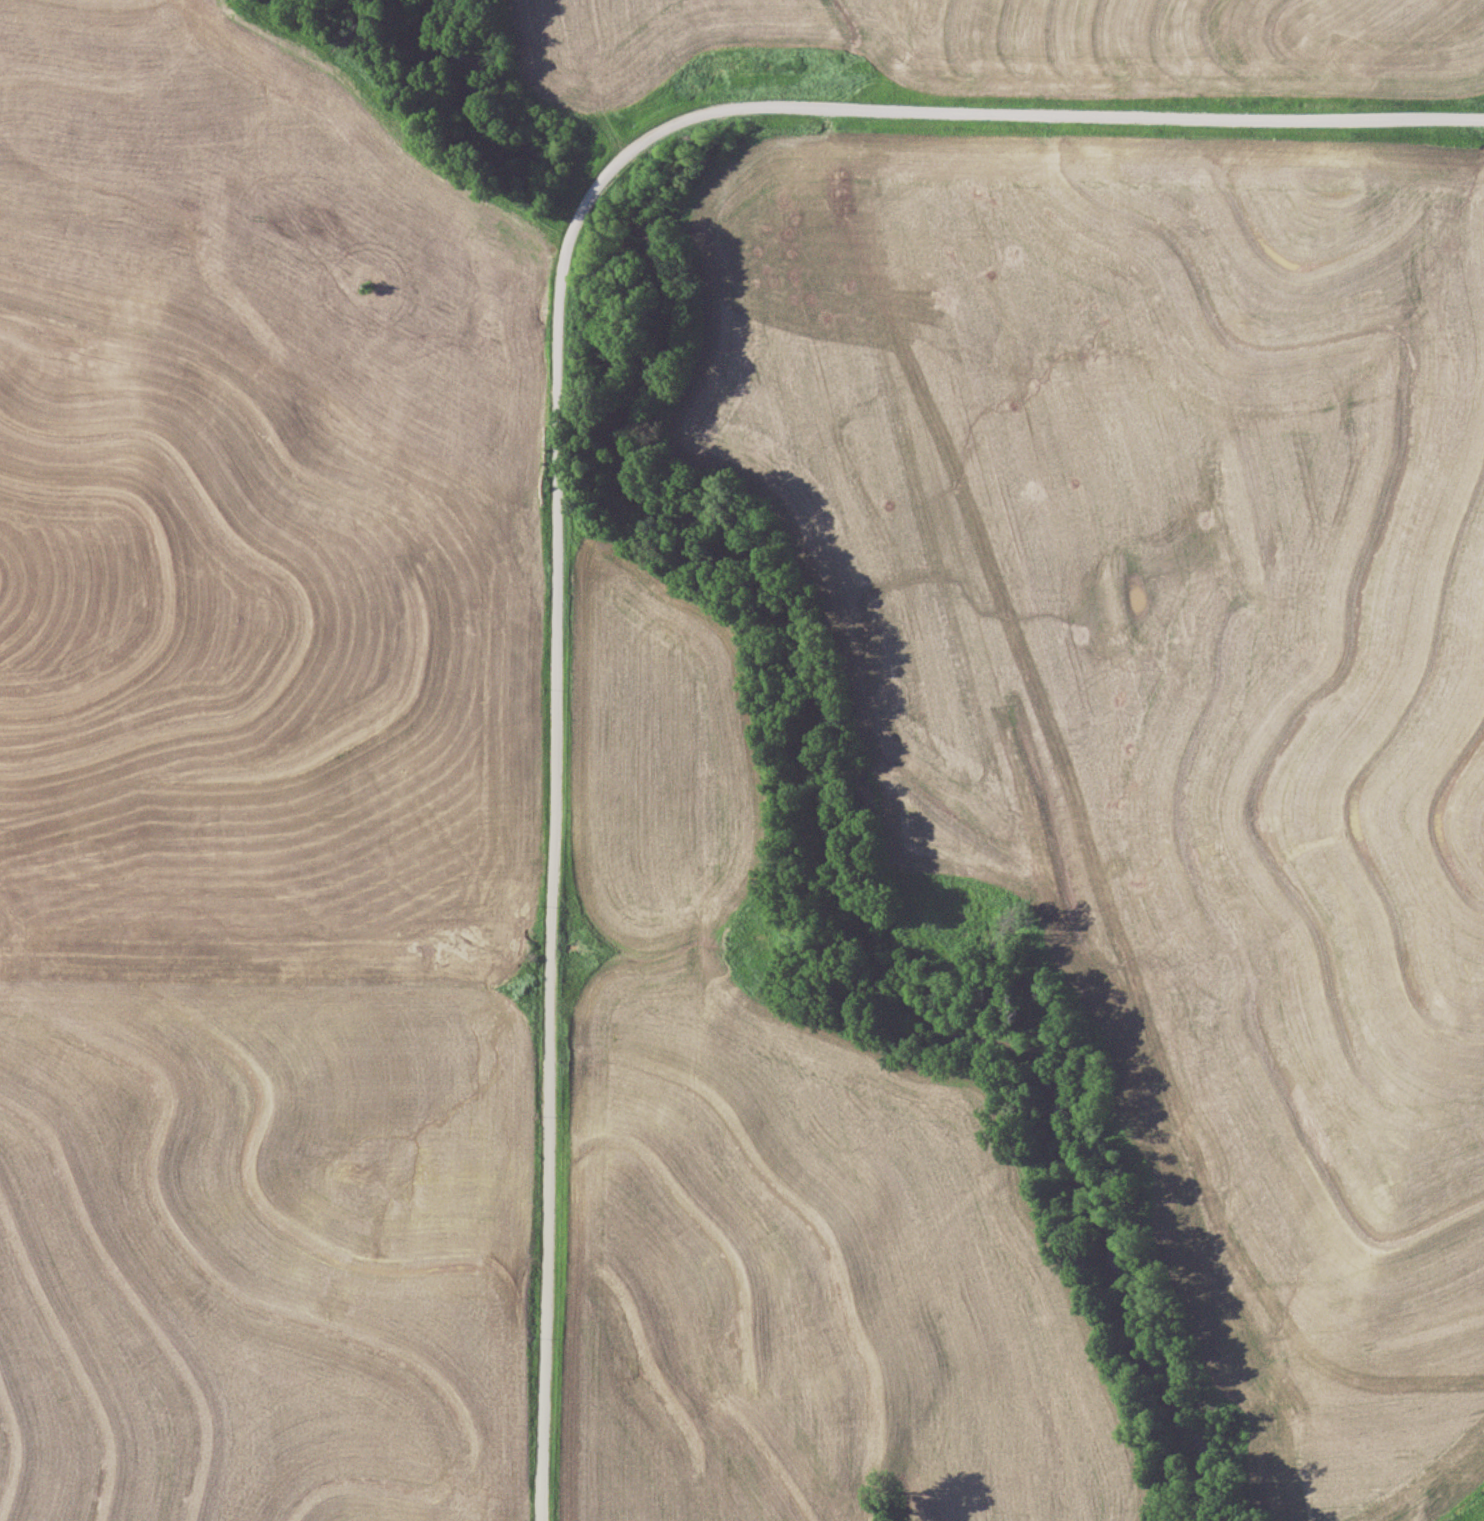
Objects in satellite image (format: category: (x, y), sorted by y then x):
road: (558, 391)

